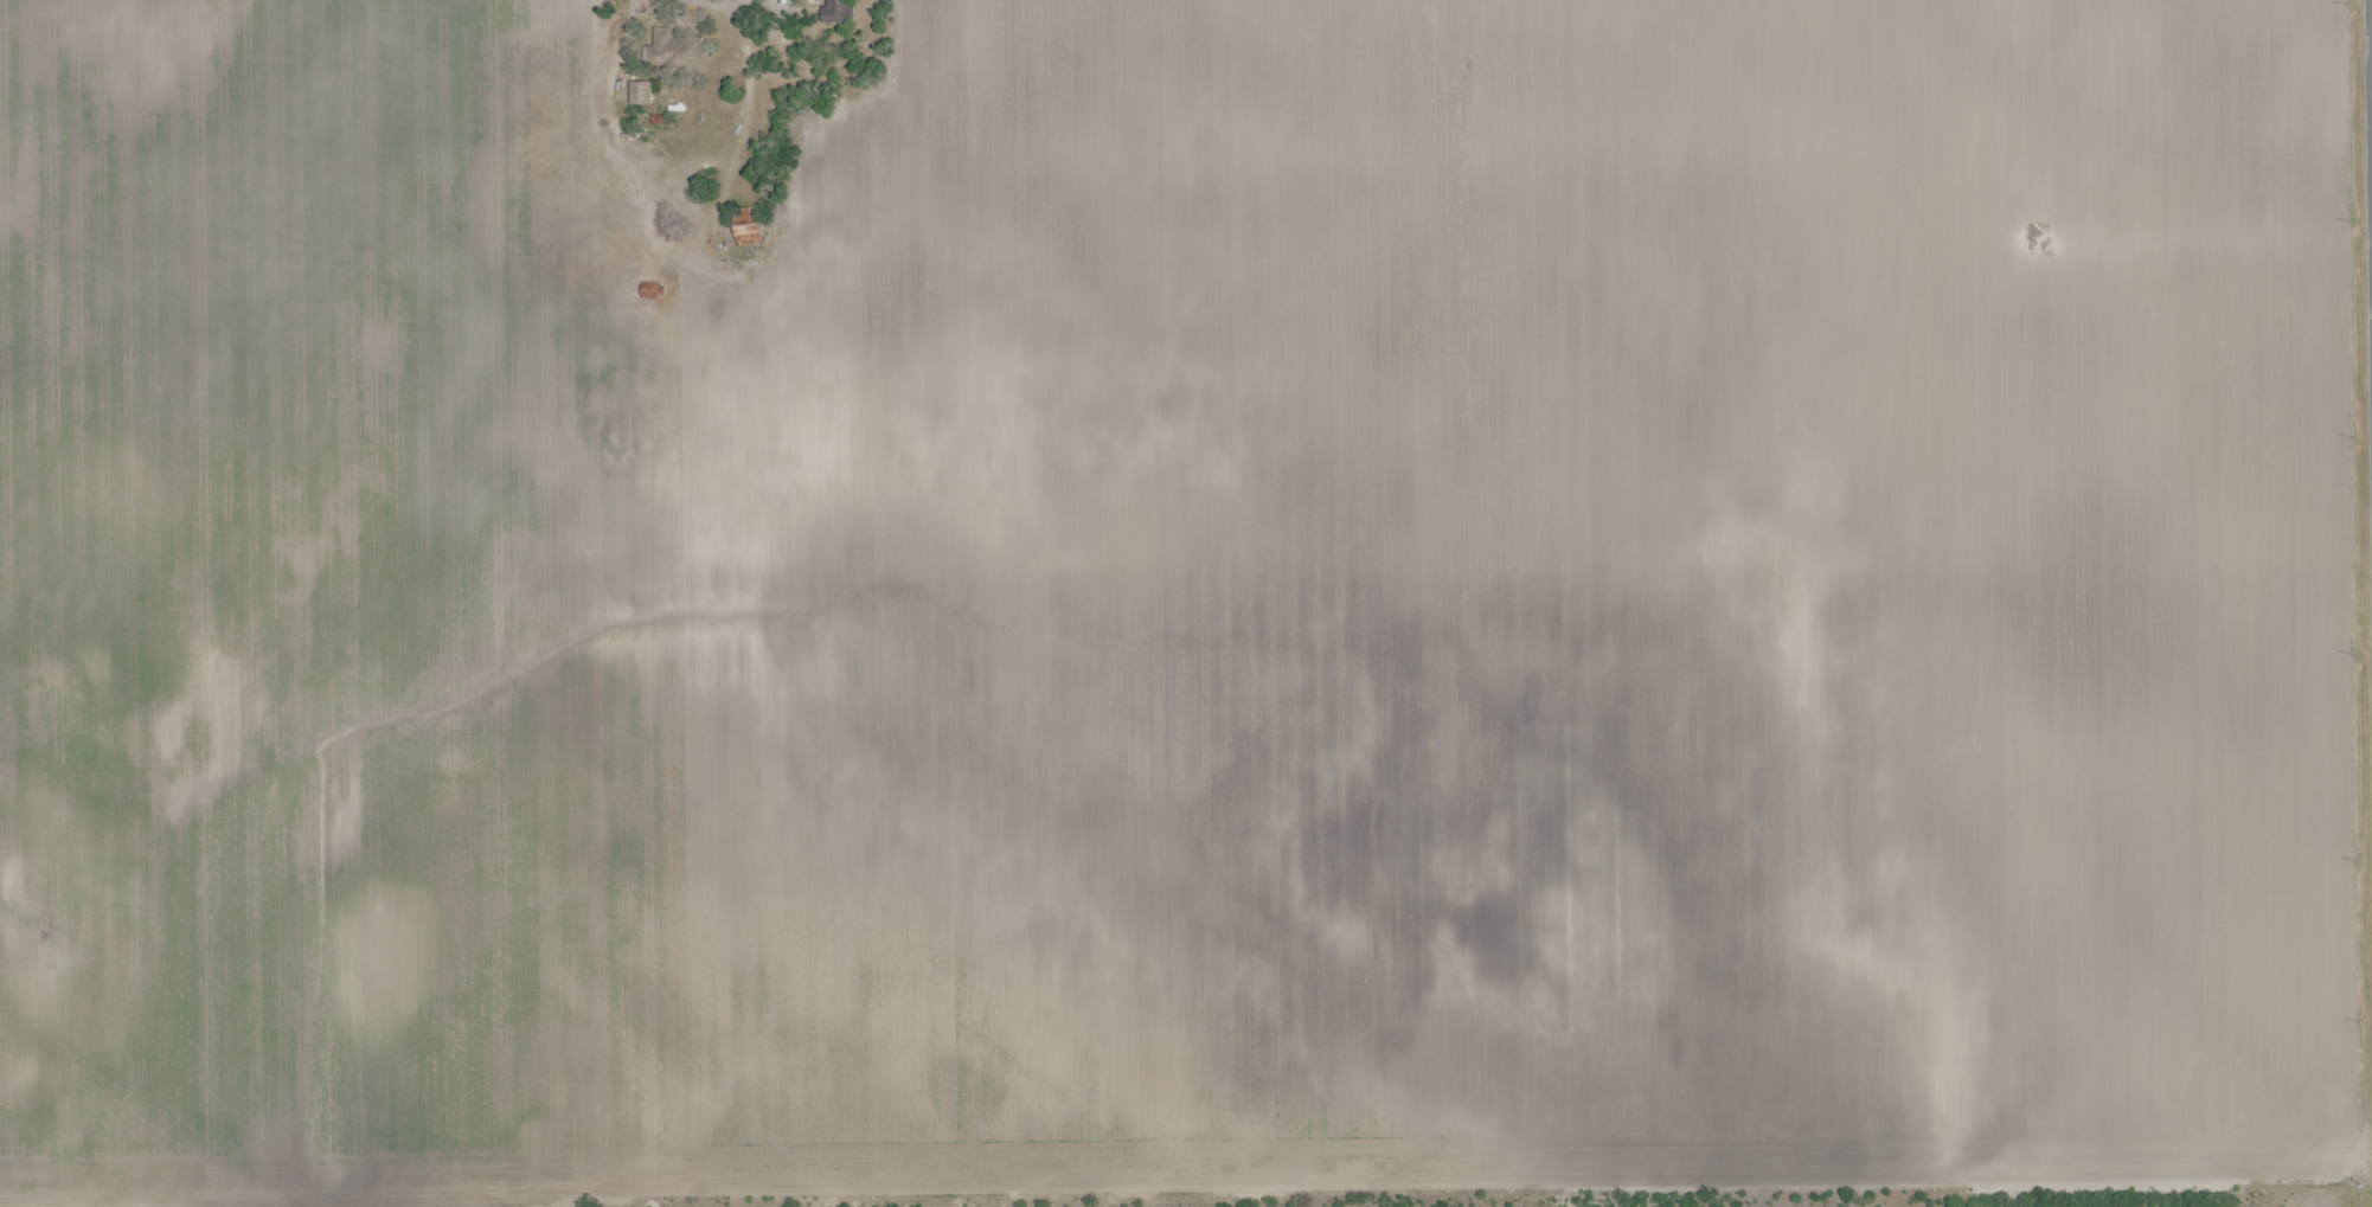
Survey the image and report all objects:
building: (839, 11)
building: (674, 52)
building: (641, 92)
road: (1711, 1199)

